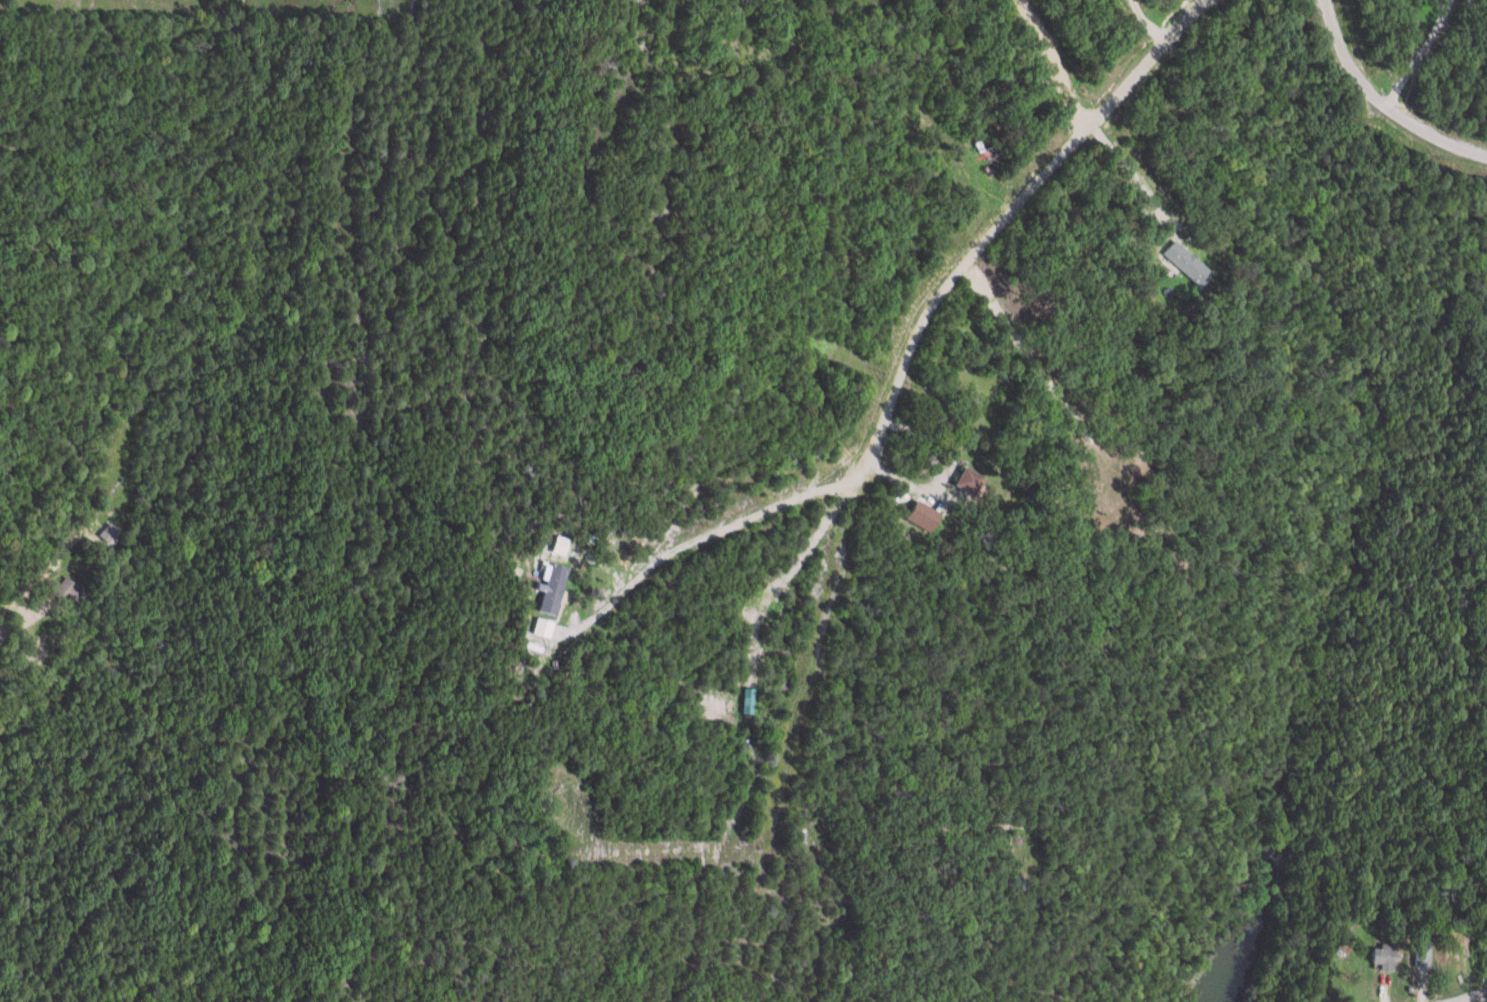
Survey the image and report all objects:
road: (1137, 24)
road: (1415, 54)
road: (772, 61)
road: (1379, 105)
road: (1075, 125)
building: (1189, 264)
road: (1043, 388)
road: (888, 392)
building: (971, 482)
building: (926, 517)
building: (560, 545)
road: (679, 555)
building: (554, 589)
building: (73, 591)
road: (11, 613)
building: (543, 627)
building: (749, 700)
road: (608, 805)
road: (666, 820)
road: (636, 859)
road: (749, 924)
building: (1486, 946)
building: (1383, 957)
road: (1465, 993)

